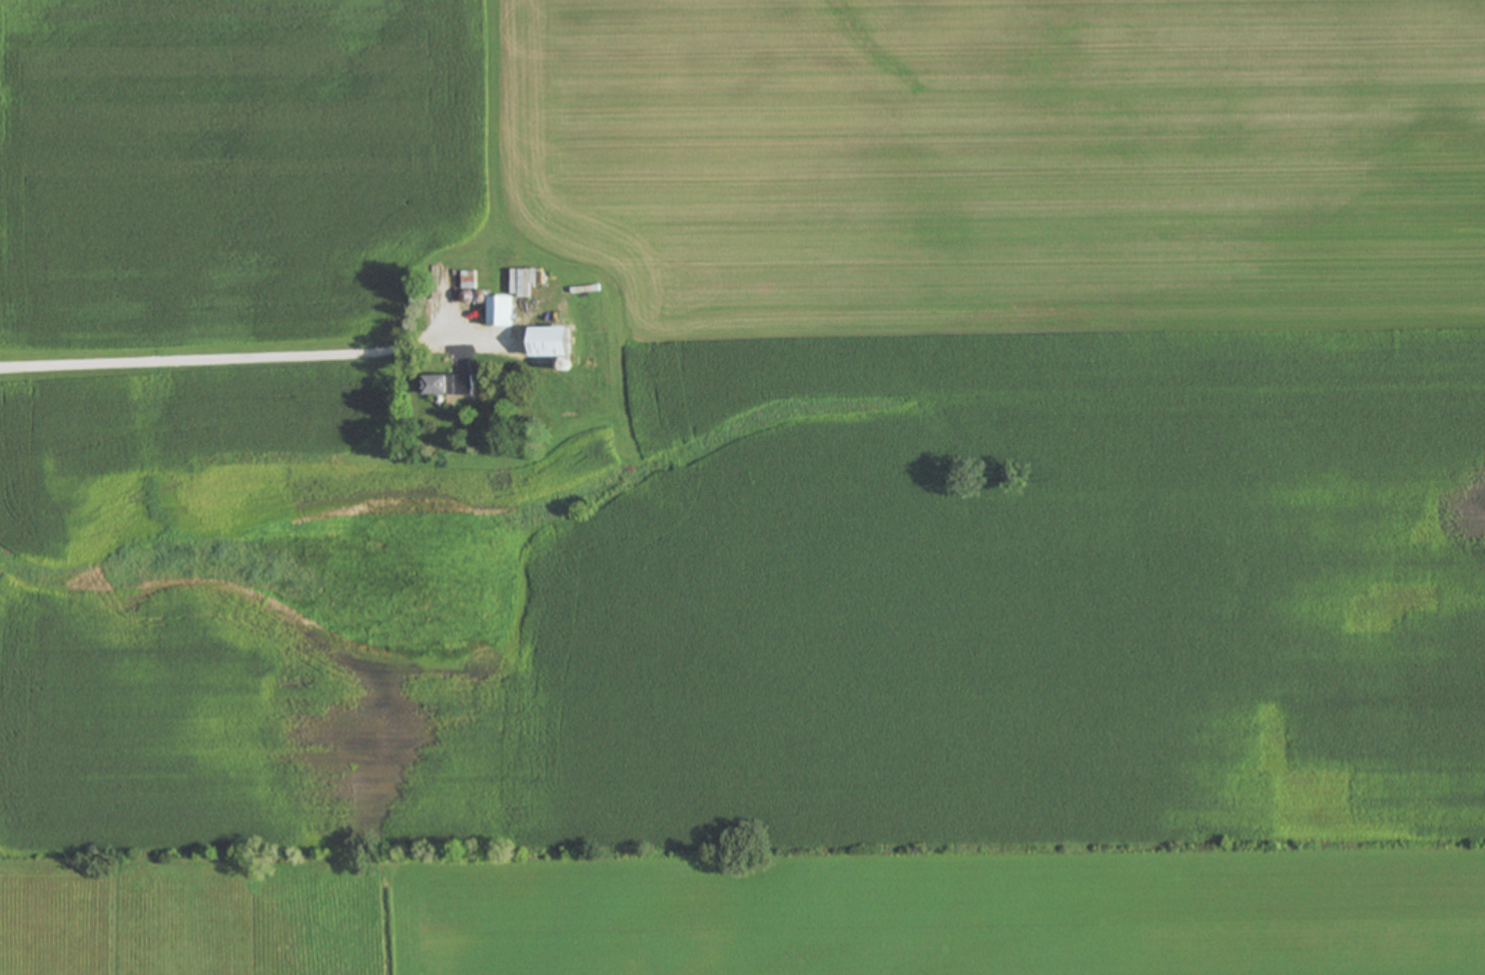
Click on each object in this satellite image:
building: (505, 313)
building: (556, 344)
road: (243, 359)
building: (234, 361)
building: (453, 387)

